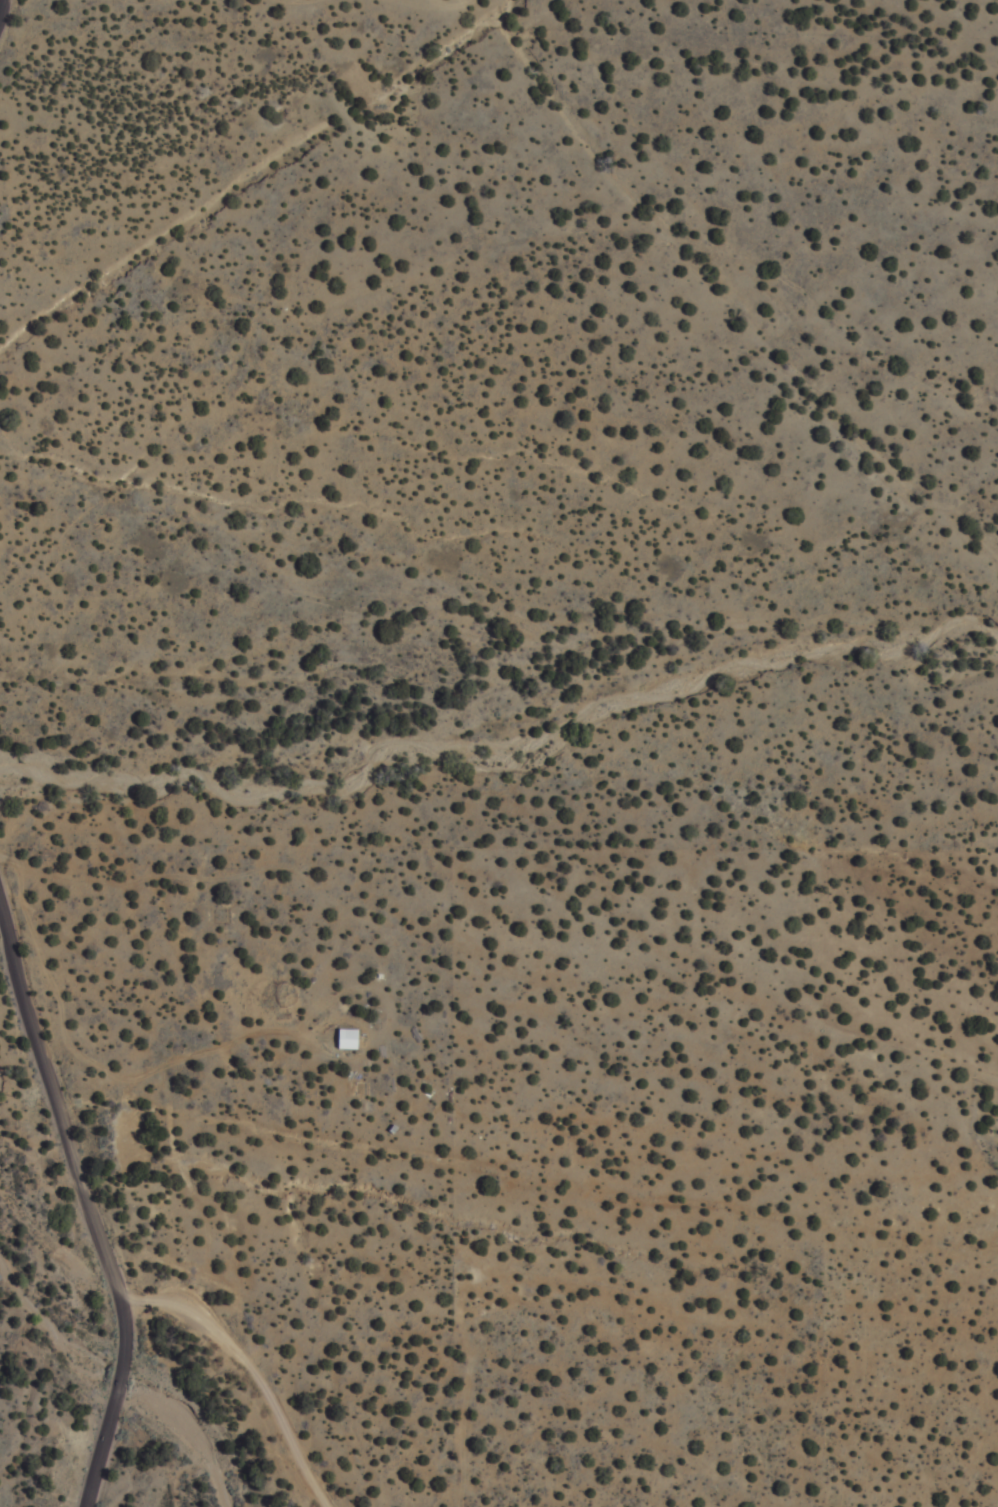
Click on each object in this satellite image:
road: (6, 18)
building: (353, 1038)
road: (88, 1208)

